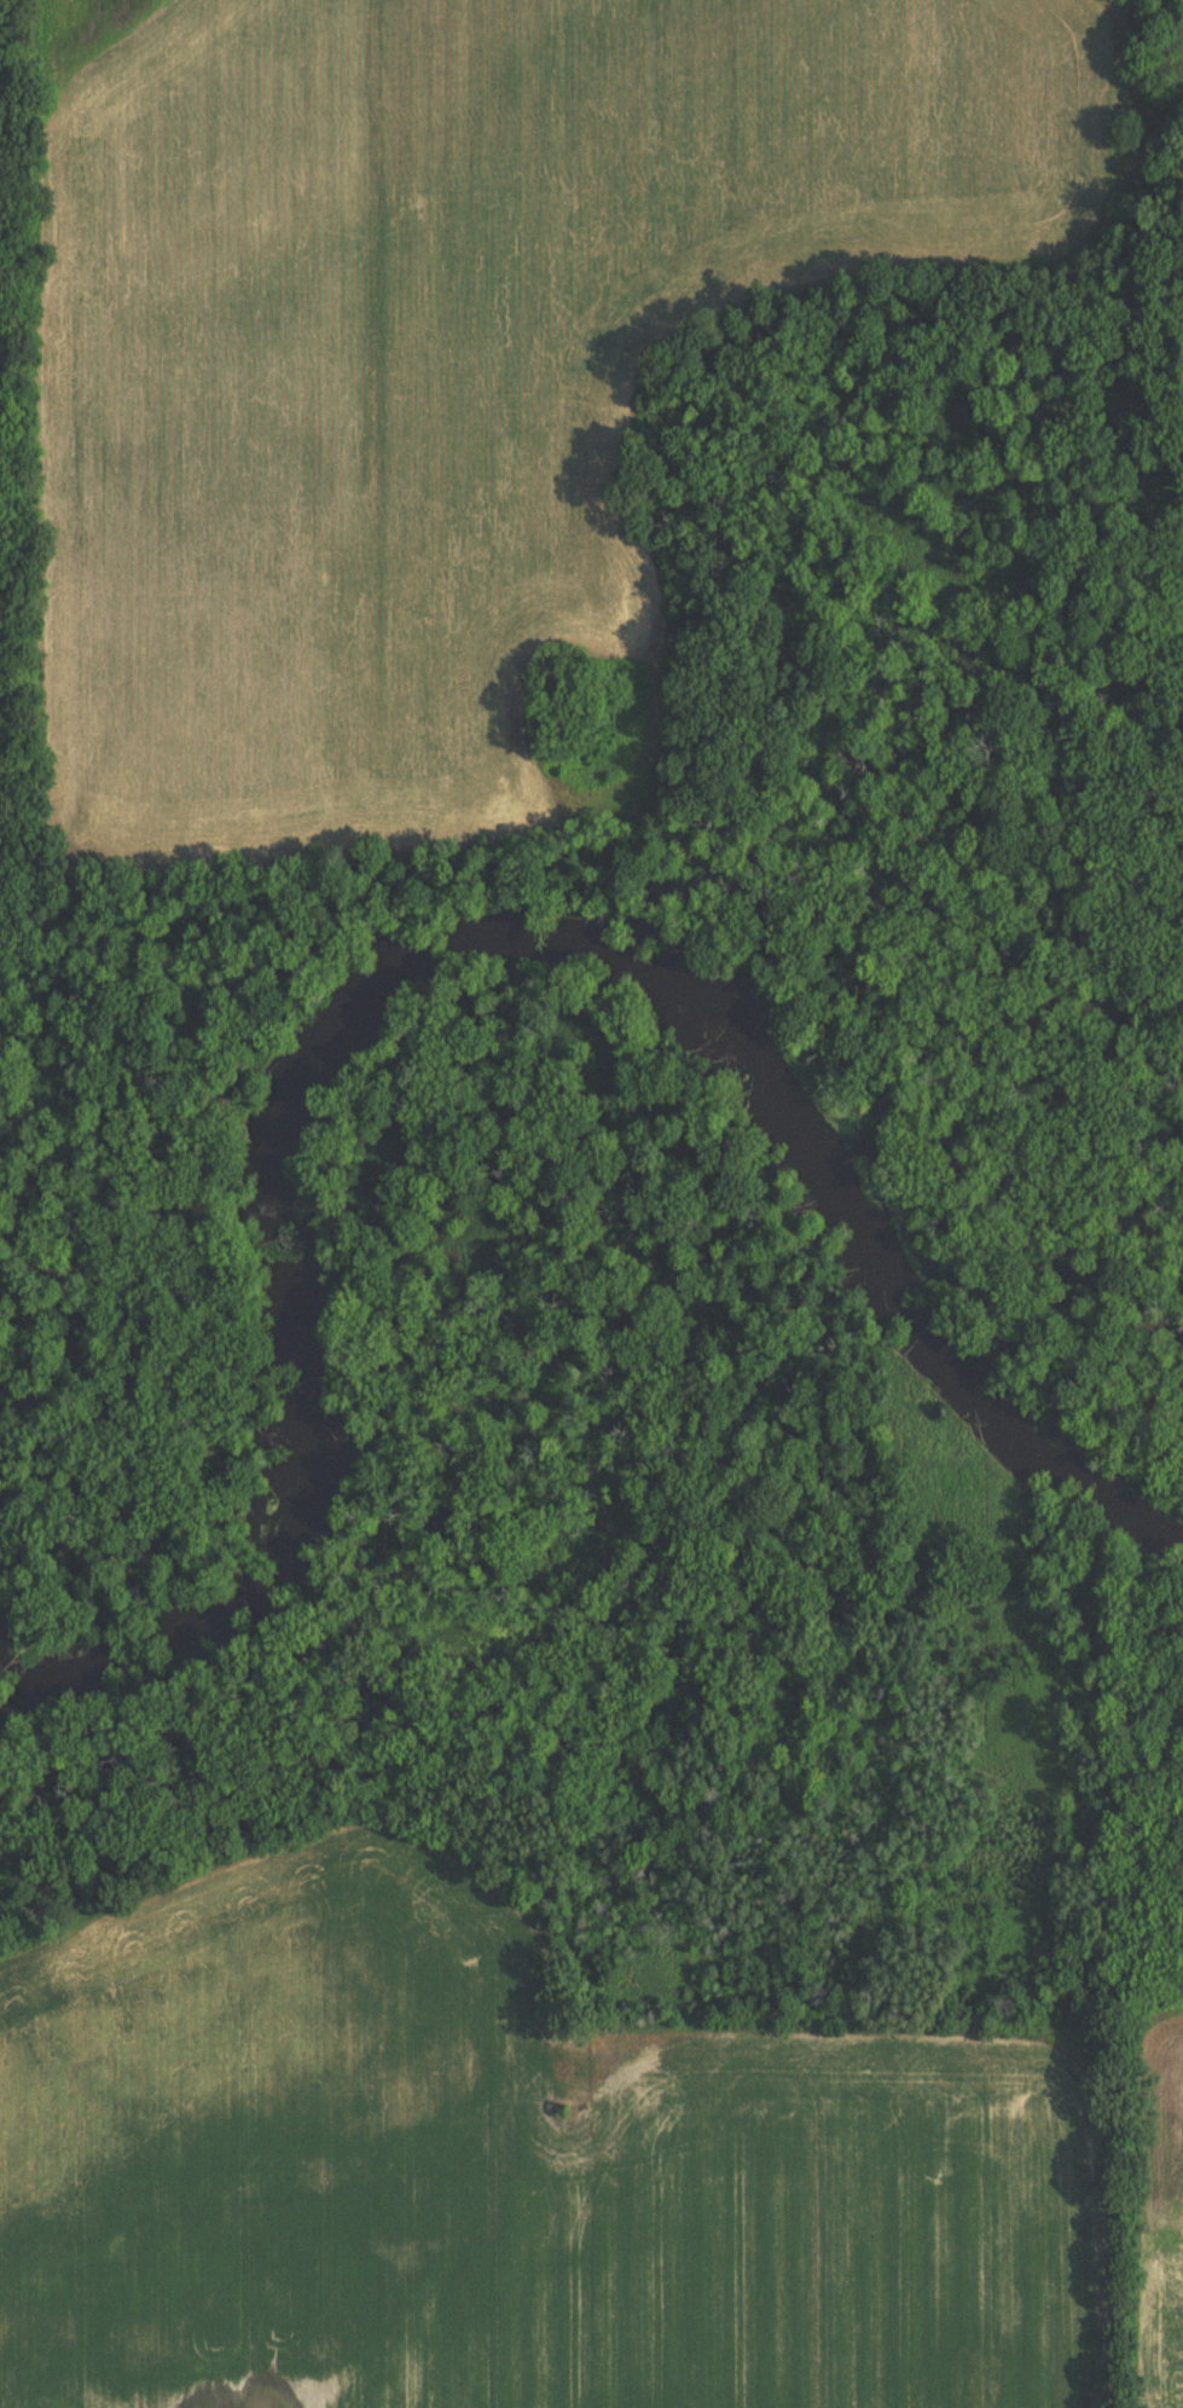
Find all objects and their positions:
river: (435, 947)

